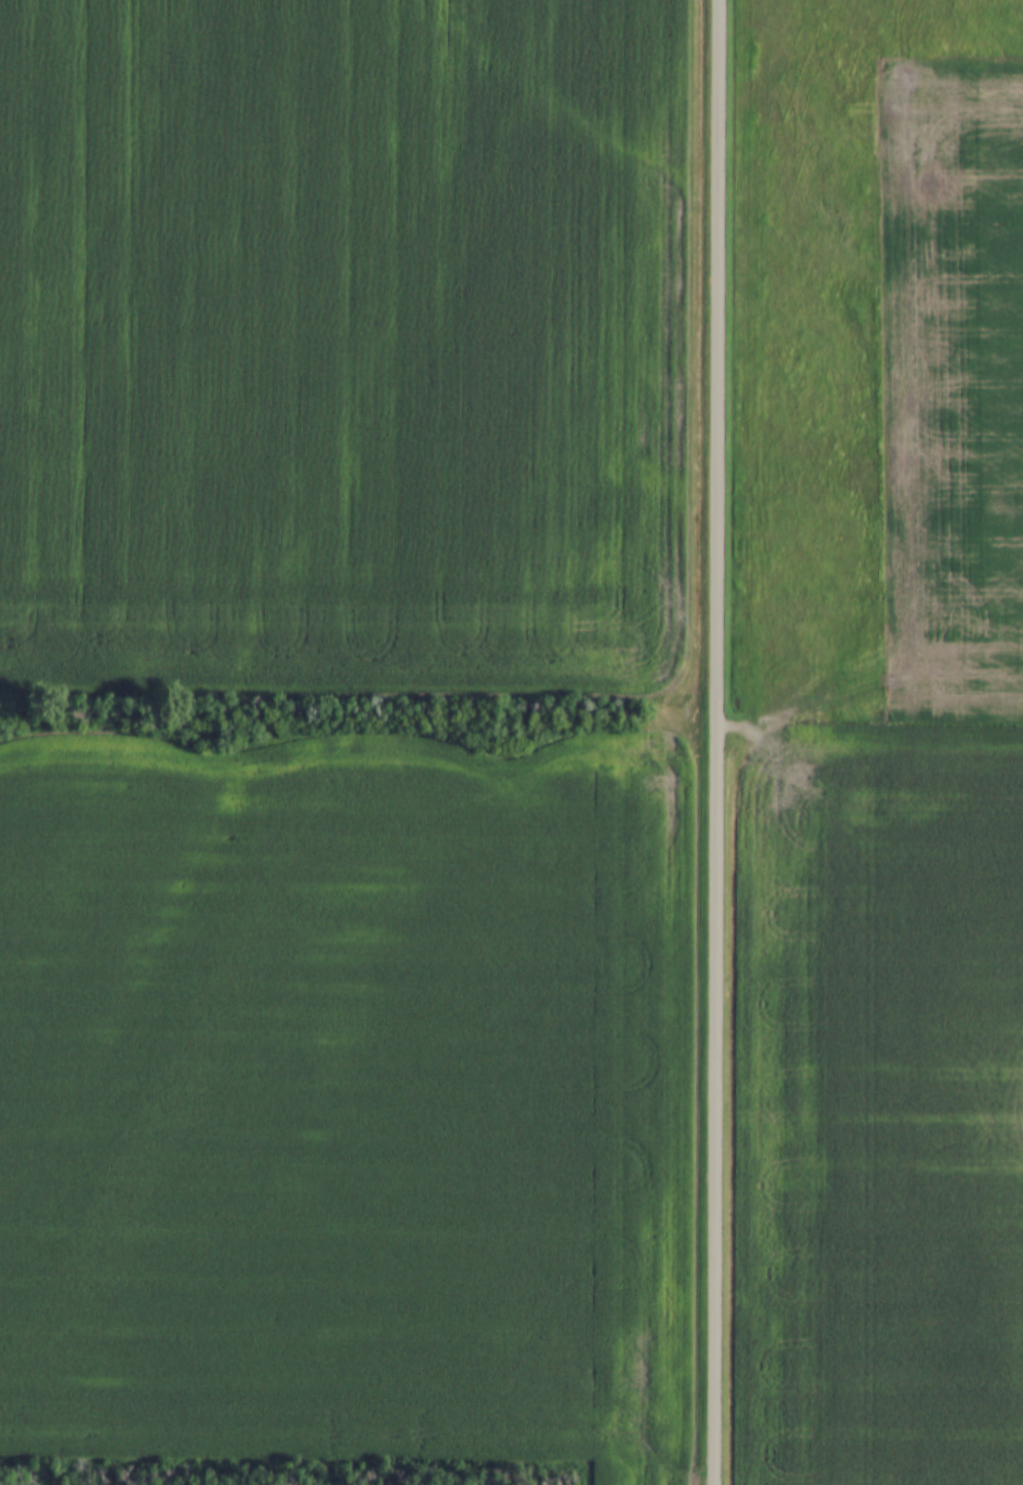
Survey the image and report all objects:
road: (714, 742)

